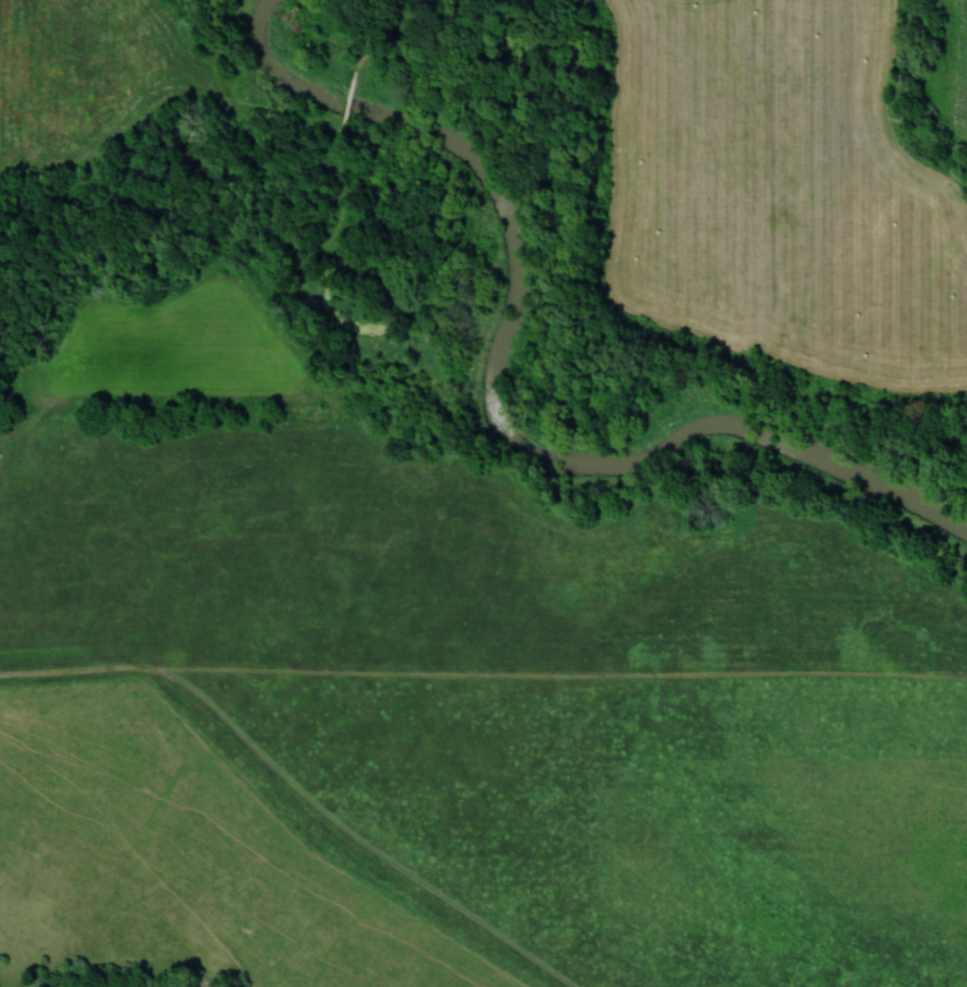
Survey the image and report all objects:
river: (491, 396)

